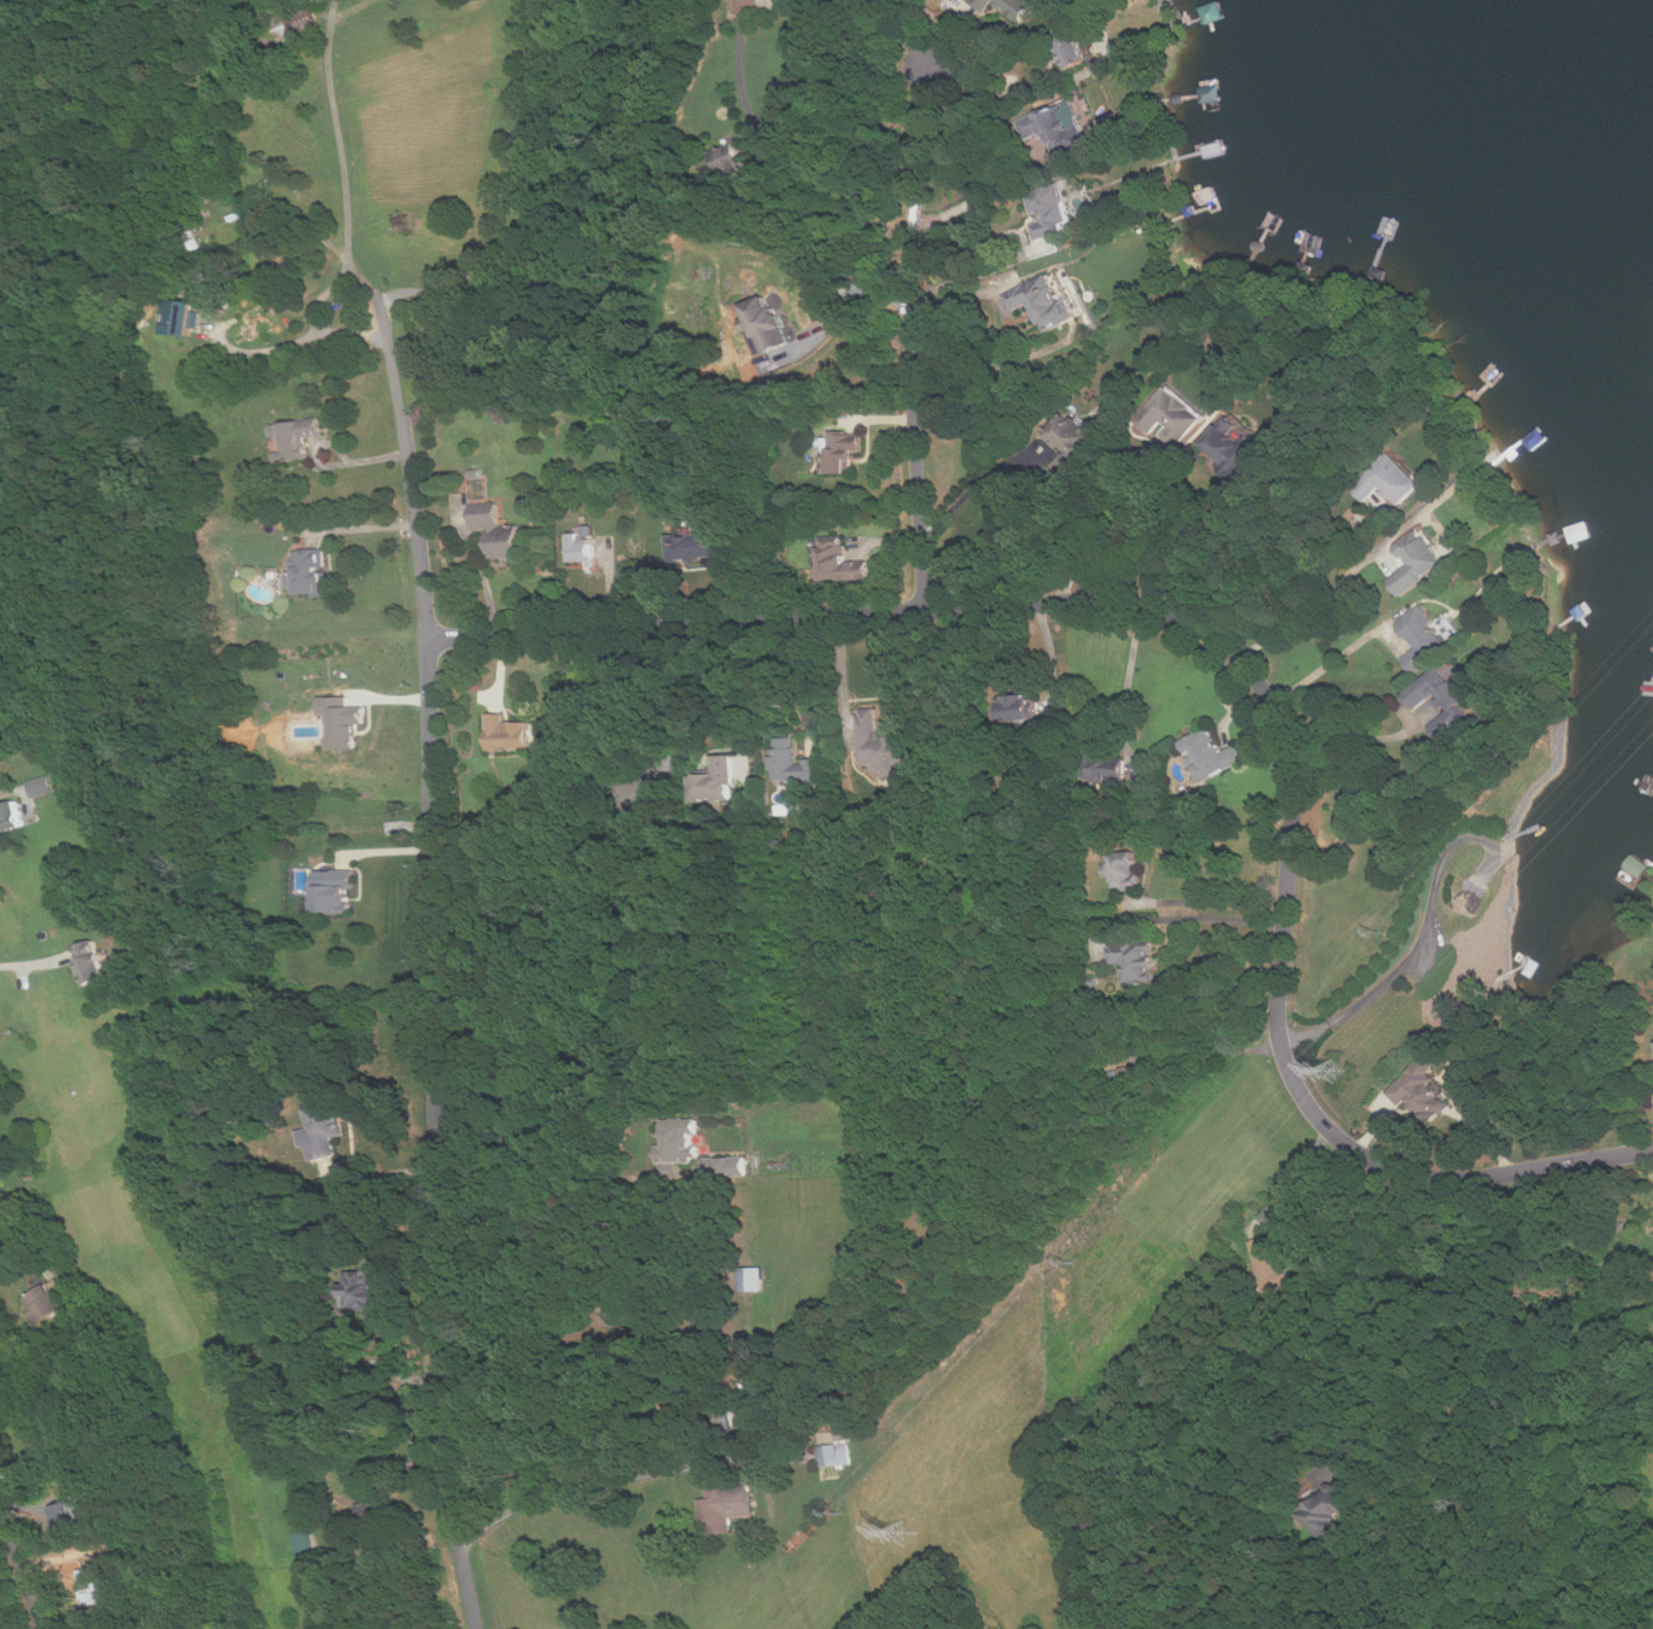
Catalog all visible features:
building: (987, 3)
building: (791, 4)
building: (1019, 7)
building: (1074, 49)
road: (1011, 99)
building: (1064, 128)
road: (341, 139)
road: (779, 152)
road: (981, 194)
road: (526, 195)
building: (1051, 216)
road: (970, 276)
road: (319, 296)
road: (848, 305)
building: (183, 316)
building: (768, 323)
road: (1007, 331)
road: (913, 337)
building: (1171, 417)
building: (1075, 434)
building: (297, 435)
building: (1236, 442)
building: (842, 449)
road: (338, 464)
building: (1391, 480)
road: (979, 482)
road: (1145, 495)
road: (362, 527)
building: (498, 529)
road: (1186, 538)
building: (697, 542)
building: (581, 545)
building: (1417, 560)
building: (843, 563)
road: (482, 568)
building: (308, 571)
road: (1303, 590)
road: (1311, 604)
building: (1423, 638)
road: (1053, 653)
road: (1243, 662)
road: (1325, 665)
road: (843, 674)
road: (1129, 675)
road: (786, 682)
road: (645, 691)
building: (1444, 696)
road: (744, 697)
building: (1021, 707)
building: (342, 721)
building: (506, 733)
building: (882, 744)
road: (1346, 750)
building: (1209, 754)
building: (794, 763)
building: (1109, 770)
building: (719, 779)
building: (42, 787)
building: (654, 790)
road: (9, 794)
building: (12, 817)
building: (1638, 866)
building: (1124, 872)
building: (335, 892)
road: (1229, 901)
road: (1197, 916)
road: (1421, 941)
building: (1135, 960)
building: (93, 962)
road: (32, 964)
road: (431, 968)
road: (1212, 1053)
power tower: (1338, 1068)
building: (1423, 1090)
building: (324, 1130)
building: (682, 1144)
road: (546, 1153)
building: (726, 1166)
road: (1293, 1174)
building: (1, 1180)
building: (1269, 1263)
building: (752, 1279)
building: (365, 1288)
building: (46, 1305)
road: (1379, 1305)
building: (723, 1420)
building: (43, 1440)
building: (835, 1456)
building: (29, 1467)
road: (582, 1494)
building: (726, 1502)
building: (381, 1506)
building: (1329, 1508)
road: (0, 1510)
building: (69, 1510)
power tower: (902, 1533)
building: (305, 1542)
road: (21, 1568)

